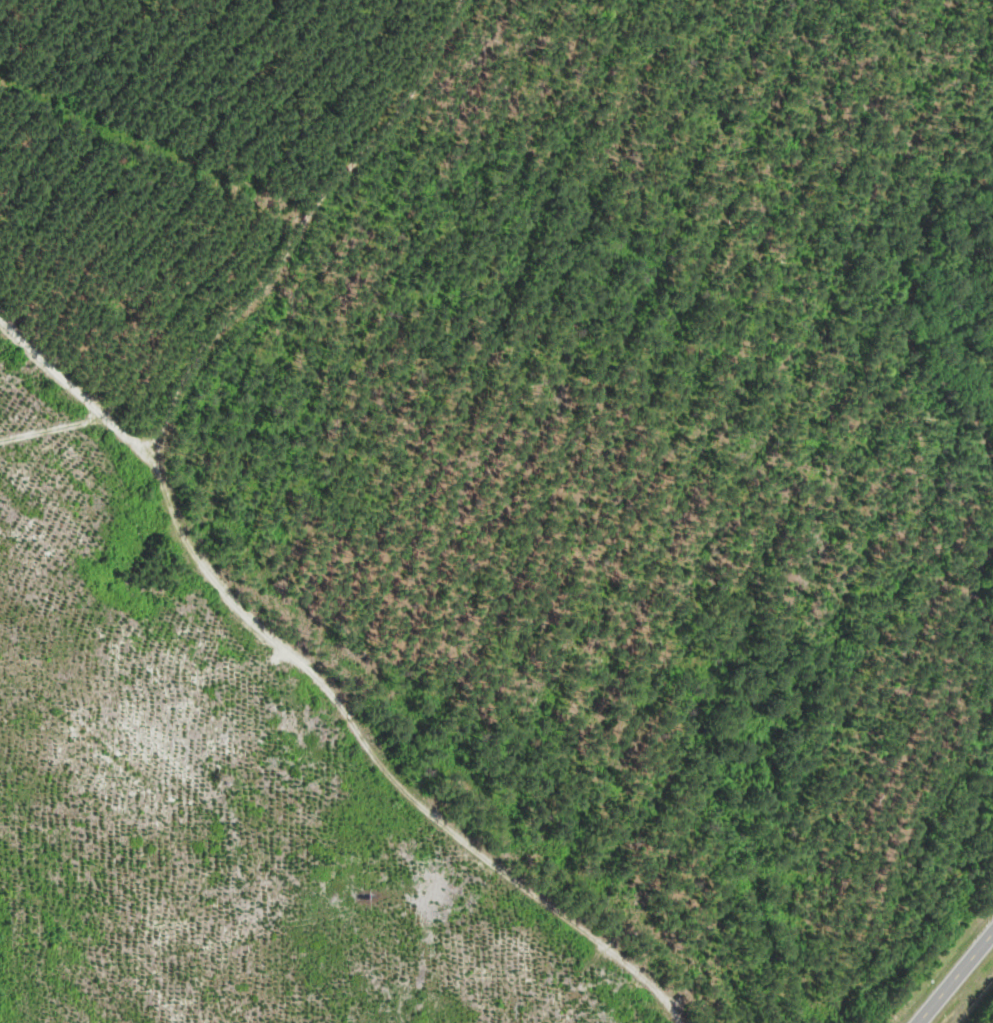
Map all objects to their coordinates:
road: (956, 977)

